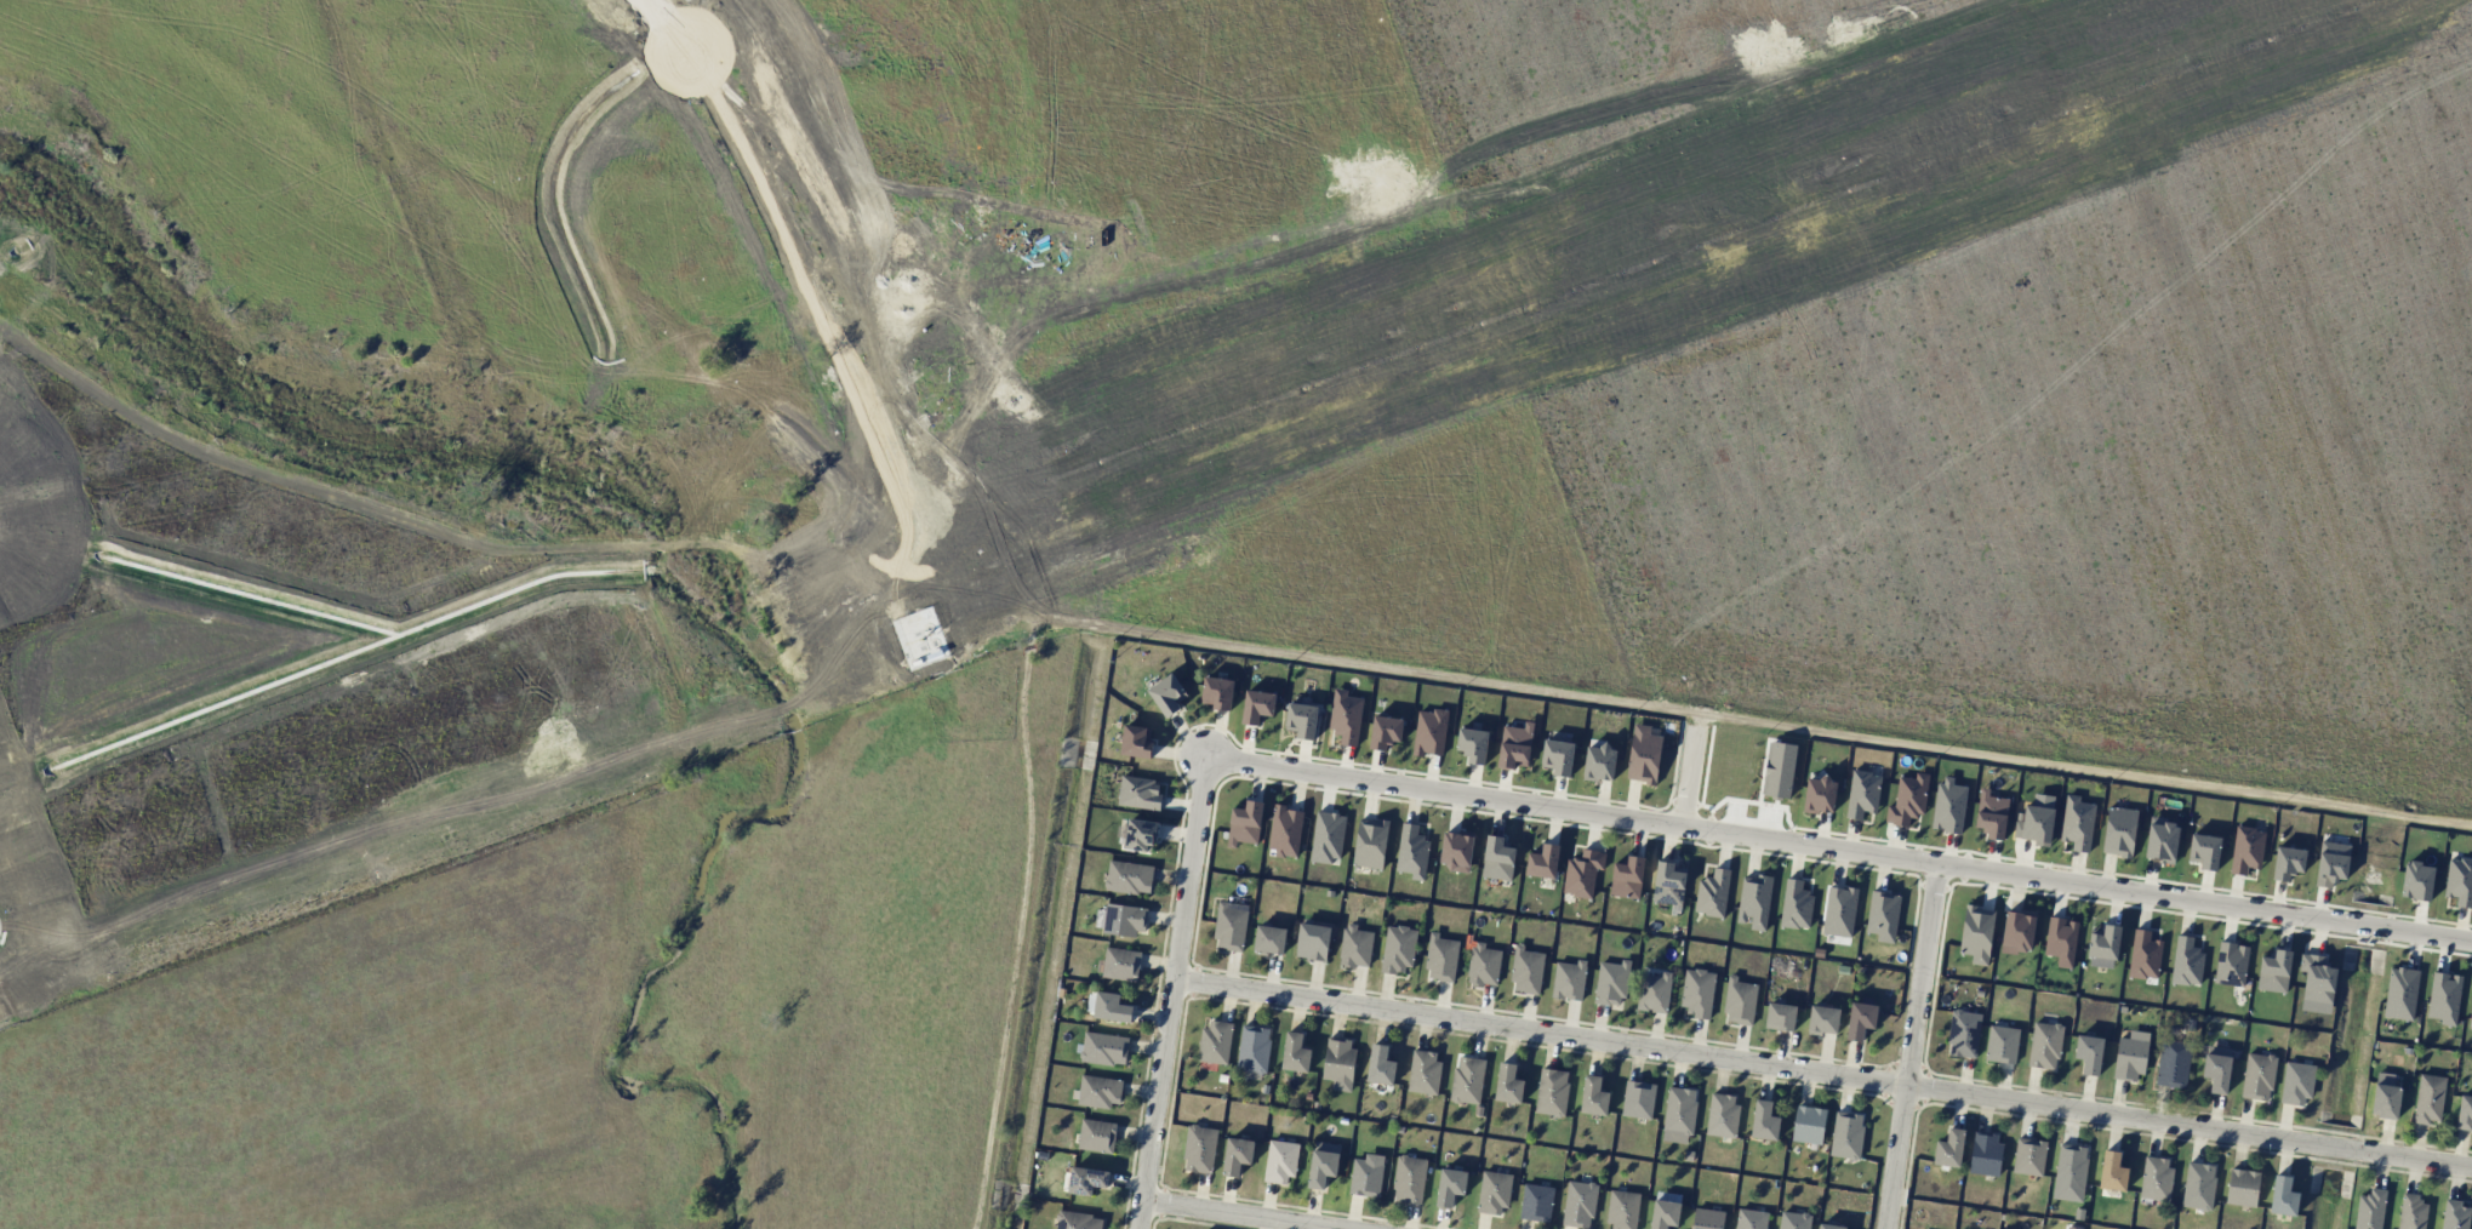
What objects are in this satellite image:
road: (664, 25)
building: (1217, 692)
building: (1168, 694)
road: (1605, 704)
building: (1257, 705)
building: (1346, 716)
building: (1302, 719)
building: (1386, 732)
building: (1429, 732)
building: (1136, 741)
building: (1473, 744)
building: (1515, 745)
building: (1644, 755)
building: (1558, 756)
building: (1599, 762)
road: (1686, 772)
building: (1140, 793)
building: (1862, 793)
building: (1820, 794)
building: (1908, 799)
building: (1948, 805)
building: (1992, 813)
building: (1245, 823)
building: (2036, 823)
building: (2077, 823)
building: (1285, 830)
building: (2119, 831)
building: (1141, 835)
building: (1326, 838)
building: (2162, 840)
building: (1370, 844)
building: (1456, 850)
building: (2247, 850)
building: (1412, 851)
building: (2204, 851)
road: (1839, 852)
building: (1497, 858)
building: (1543, 861)
building: (2288, 863)
building: (2331, 863)
building: (1583, 873)
building: (1129, 878)
building: (1627, 878)
building: (2416, 881)
building: (2459, 881)
building: (1668, 882)
building: (1712, 893)
building: (1754, 901)
building: (1796, 905)
building: (1839, 910)
building: (1883, 915)
building: (1120, 919)
road: (1016, 921)
building: (1231, 927)
building: (2017, 932)
building: (1977, 933)
building: (1269, 939)
building: (2061, 941)
building: (1313, 942)
building: (1355, 945)
building: (2103, 947)
building: (1399, 948)
building: (2145, 955)
building: (1441, 958)
building: (2186, 961)
building: (1119, 964)
building: (2231, 964)
building: (1484, 965)
building: (1526, 970)
building: (2274, 972)
building: (2317, 978)
building: (1569, 979)
building: (1611, 983)
building: (1654, 991)
building: (1697, 991)
building: (2400, 994)
road: (1174, 995)
building: (2444, 998)
building: (1740, 1001)
building: (1108, 1006)
building: (1781, 1017)
building: (2471, 1018)
building: (1823, 1019)
building: (1861, 1019)
building: (1964, 1033)
building: (1215, 1041)
building: (2002, 1044)
building: (2044, 1045)
road: (1914, 1047)
building: (1104, 1048)
building: (1254, 1051)
building: (1295, 1052)
building: (2089, 1053)
building: (2130, 1058)
building: (1338, 1063)
building: (2173, 1063)
building: (1380, 1065)
building: (2217, 1068)
building: (1423, 1071)
road: (1823, 1074)
building: (2257, 1076)
building: (1467, 1079)
building: (2296, 1082)
building: (1508, 1084)
building: (1098, 1091)
building: (1552, 1092)
building: (1594, 1096)
building: (2385, 1096)
building: (2428, 1098)
building: (1638, 1099)
building: (2465, 1113)
building: (1679, 1114)
building: (1723, 1115)
building: (1764, 1121)
building: (1809, 1124)
building: (1846, 1134)
building: (1097, 1136)
building: (1949, 1148)
building: (1199, 1149)
building: (1985, 1153)
building: (1237, 1155)
building: (2029, 1156)
building: (1280, 1161)
building: (1323, 1164)
building: (2071, 1167)
building: (2112, 1171)
building: (1366, 1176)
building: (2156, 1178)
building: (1086, 1179)
building: (1409, 1179)
building: (1450, 1185)
building: (2198, 1185)
building: (2242, 1187)
building: (1495, 1191)
building: (2283, 1196)
building: (1536, 1202)
building: (1580, 1204)
building: (1623, 1210)
building: (1666, 1210)
building: (2370, 1210)
building: (2411, 1212)
road: (1232, 1216)
building: (2455, 1216)
building: (1707, 1218)
building: (1751, 1219)
building: (1078, 1221)
building: (1793, 1221)
building: (1831, 1227)

